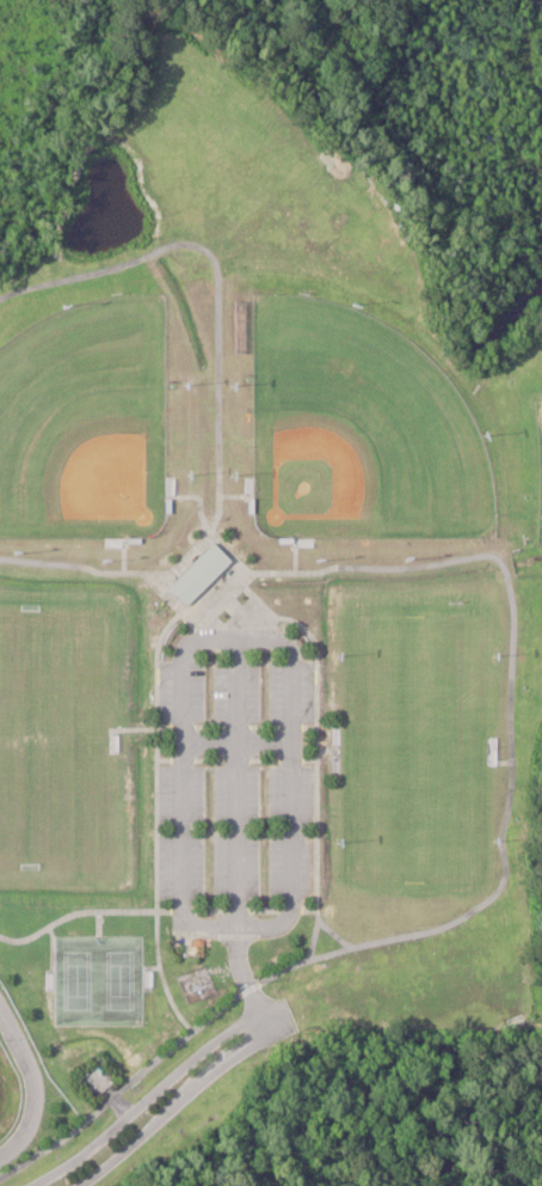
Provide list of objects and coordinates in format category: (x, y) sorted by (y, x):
park: (81, 421)
park: (352, 429)
building: (204, 573)
parking lot: (236, 780)
road: (285, 782)
road: (183, 785)
road: (230, 840)
road: (461, 913)
road: (32, 1086)
road: (138, 1101)
road: (167, 1107)

